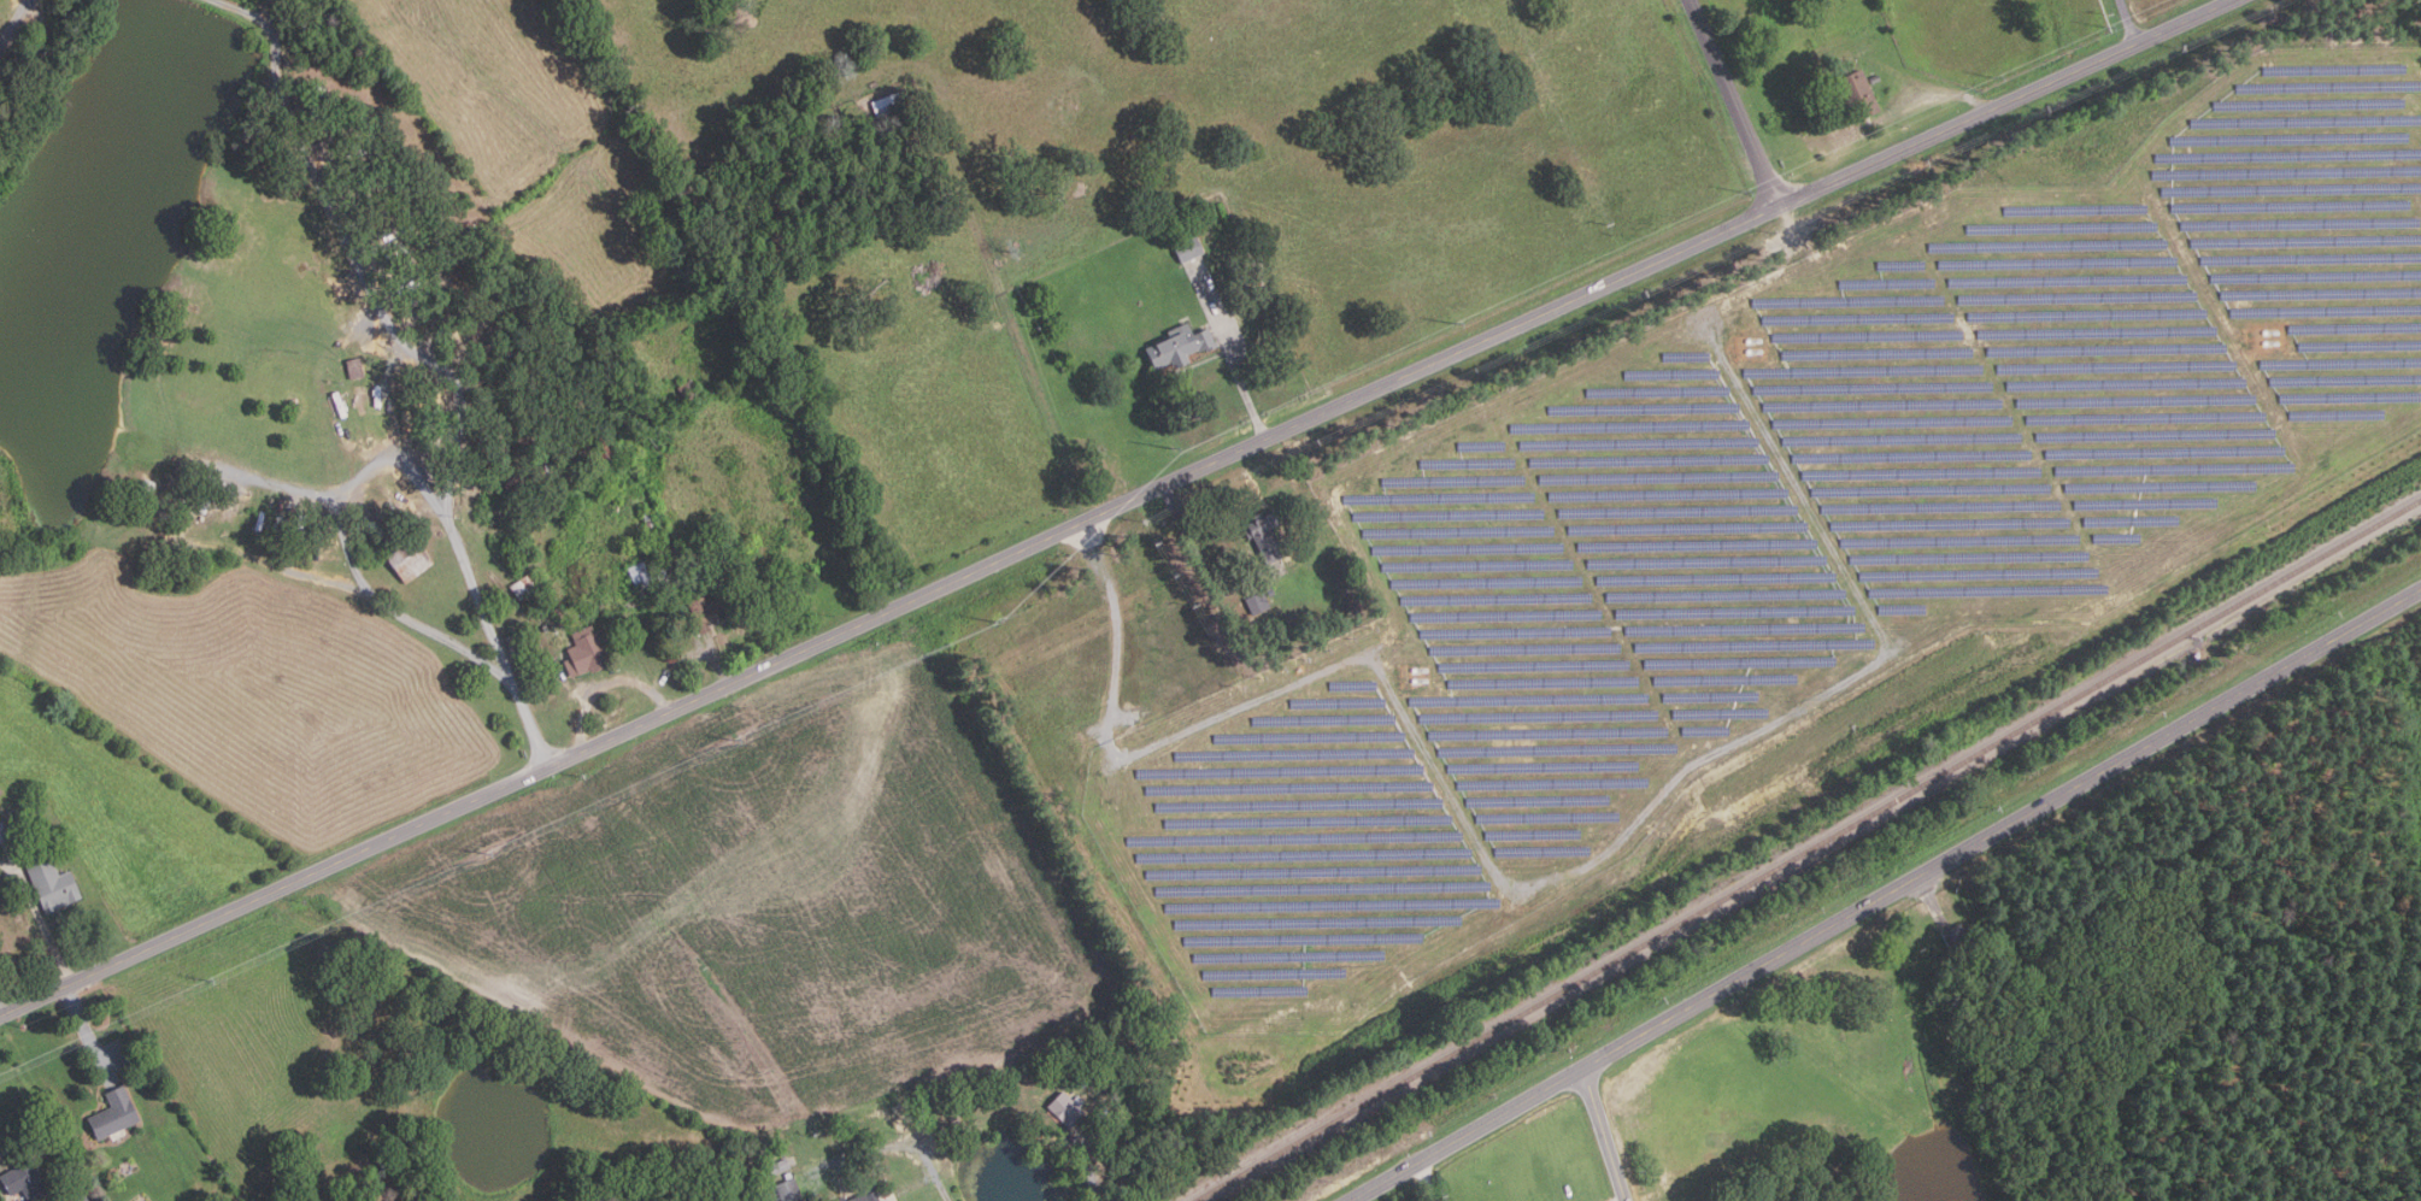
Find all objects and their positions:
road: (239, 11)
road: (2127, 19)
road: (12, 22)
power tower: (2109, 29)
building: (1876, 78)
power tower: (1997, 78)
building: (1859, 94)
building: (892, 102)
road: (1734, 102)
power tower: (1746, 193)
building: (1189, 246)
road: (364, 279)
power tower: (1456, 325)
building: (1181, 347)
building: (507, 355)
road: (1235, 366)
building: (355, 369)
building: (691, 391)
building: (683, 416)
power tower: (1171, 446)
building: (606, 452)
road: (402, 455)
building: (551, 465)
building: (577, 469)
road: (259, 476)
building: (517, 487)
road: (1113, 507)
building: (494, 518)
solar farm: (1779, 531)
building: (1267, 537)
road: (251, 554)
building: (409, 557)
power tower: (1082, 567)
building: (704, 576)
building: (652, 578)
building: (527, 587)
building: (1271, 591)
building: (1259, 602)
building: (1361, 605)
building: (710, 607)
building: (562, 617)
power tower: (995, 620)
building: (547, 629)
building: (517, 644)
road: (688, 648)
building: (586, 653)
road: (598, 681)
power tower: (739, 741)
building: (2, 831)
railway: (1808, 844)
power tower: (488, 853)
building: (54, 883)
road: (1528, 884)
road: (1885, 894)
road: (45, 928)
building: (1961, 940)
power tower: (211, 982)
road: (87, 1029)
building: (1066, 1058)
building: (1068, 1108)
building: (116, 1112)
road: (1606, 1134)
building: (950, 1143)
road: (1086, 1165)
building: (778, 1166)
building: (27, 1179)
road: (1428, 1179)
building: (789, 1191)
building: (865, 1194)
building: (546, 1200)
road: (1626, 1200)

